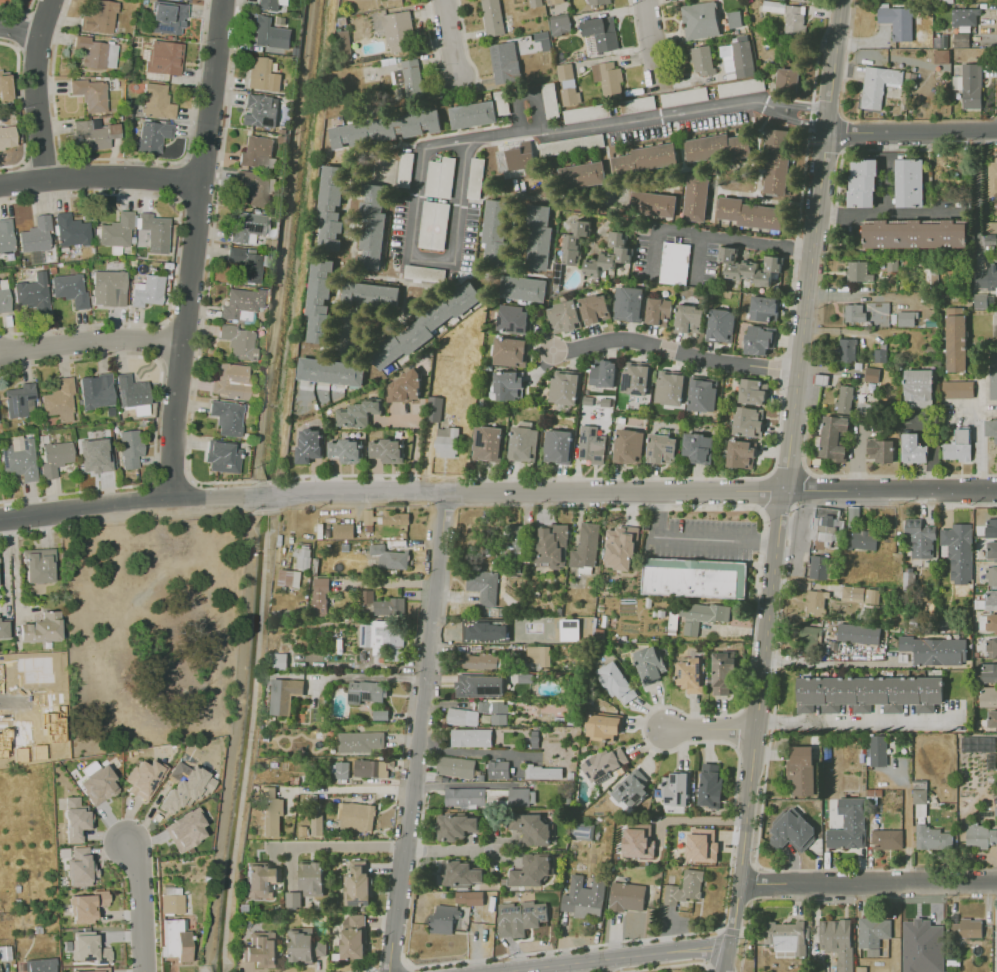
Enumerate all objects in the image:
building: (186, 0)
building: (553, 2)
building: (598, 3)
building: (269, 5)
building: (169, 16)
building: (964, 16)
building: (100, 17)
building: (790, 17)
building: (493, 18)
building: (700, 21)
building: (897, 21)
building: (560, 25)
road: (21, 32)
building: (399, 32)
building: (269, 33)
building: (602, 33)
road: (449, 36)
building: (961, 39)
building: (544, 40)
building: (344, 41)
road: (654, 43)
building: (591, 45)
building: (92, 52)
building: (941, 55)
building: (165, 58)
building: (701, 60)
building: (743, 60)
building: (505, 64)
building: (565, 73)
building: (265, 75)
building: (411, 79)
building: (608, 80)
building: (788, 80)
building: (877, 85)
building: (740, 86)
building: (971, 86)
parking lot: (742, 87)
road: (36, 88)
building: (4, 91)
building: (91, 94)
parking lot: (685, 96)
building: (569, 97)
building: (550, 100)
parking lot: (551, 101)
building: (158, 102)
parking lot: (503, 102)
parking lot: (638, 105)
road: (807, 106)
building: (261, 110)
building: (586, 113)
parking lot: (587, 113)
building: (474, 115)
road: (806, 117)
parking lot: (680, 127)
building: (384, 128)
road: (911, 132)
building: (93, 135)
building: (153, 136)
building: (7, 137)
road: (467, 138)
building: (571, 144)
parking lot: (573, 145)
building: (718, 147)
building: (258, 152)
building: (647, 158)
building: (516, 160)
building: (777, 162)
building: (583, 175)
road: (99, 176)
building: (992, 176)
building: (440, 177)
building: (909, 182)
building: (861, 183)
building: (255, 188)
road: (979, 191)
building: (697, 198)
building: (653, 205)
building: (332, 208)
road: (883, 209)
parking lot: (436, 210)
building: (751, 213)
building: (433, 225)
building: (247, 227)
building: (371, 227)
building: (583, 228)
building: (117, 230)
building: (72, 231)
road: (659, 231)
building: (156, 232)
building: (498, 233)
building: (913, 233)
building: (6, 235)
building: (37, 235)
building: (537, 237)
building: (618, 239)
road: (733, 240)
building: (572, 242)
road: (191, 250)
building: (623, 254)
parking lot: (677, 254)
building: (729, 254)
building: (572, 257)
building: (608, 260)
building: (674, 263)
building: (246, 264)
building: (773, 264)
building: (592, 267)
building: (857, 271)
building: (750, 274)
building: (987, 277)
building: (109, 288)
building: (71, 290)
building: (523, 290)
building: (149, 291)
building: (34, 292)
road: (836, 295)
building: (372, 296)
road: (889, 296)
building: (4, 301)
building: (319, 301)
building: (982, 301)
building: (242, 303)
building: (629, 303)
building: (595, 309)
building: (764, 310)
building: (660, 311)
building: (854, 312)
building: (565, 316)
building: (906, 318)
building: (514, 319)
building: (690, 319)
building: (425, 327)
building: (722, 327)
building: (760, 339)
building: (955, 339)
road: (89, 342)
building: (239, 342)
building: (846, 349)
road: (673, 351)
building: (511, 352)
building: (332, 372)
building: (871, 374)
building: (603, 375)
building: (637, 379)
building: (993, 382)
building: (231, 383)
building: (509, 385)
building: (405, 387)
building: (670, 387)
building: (566, 388)
building: (918, 388)
building: (957, 389)
building: (133, 390)
building: (96, 391)
building: (752, 392)
building: (702, 395)
building: (844, 398)
building: (19, 400)
building: (60, 401)
building: (435, 409)
building: (358, 413)
building: (228, 417)
building: (749, 421)
building: (598, 425)
building: (991, 429)
building: (833, 438)
road: (980, 441)
building: (449, 442)
building: (488, 443)
road: (414, 444)
building: (524, 444)
building: (558, 446)
building: (629, 446)
building: (958, 446)
building: (310, 447)
building: (130, 448)
building: (698, 448)
building: (663, 449)
building: (912, 449)
building: (388, 450)
building: (880, 450)
building: (347, 451)
building: (591, 452)
building: (97, 454)
building: (742, 454)
building: (223, 456)
building: (55, 458)
building: (20, 460)
road: (805, 471)
road: (783, 486)
road: (890, 490)
road: (390, 491)
building: (371, 517)
building: (395, 518)
building: (830, 523)
building: (991, 529)
building: (344, 531)
road: (696, 536)
building: (512, 537)
building: (919, 539)
building: (862, 540)
building: (550, 545)
building: (585, 548)
building: (620, 548)
building: (991, 550)
building: (390, 557)
building: (303, 559)
building: (39, 565)
building: (818, 567)
building: (694, 576)
building: (991, 576)
building: (288, 577)
building: (483, 586)
building: (859, 594)
building: (321, 596)
building: (367, 597)
building: (815, 602)
building: (390, 607)
building: (701, 615)
building: (991, 624)
building: (5, 628)
building: (42, 628)
building: (474, 629)
building: (858, 633)
building: (527, 635)
building: (808, 639)
building: (383, 640)
building: (991, 649)
building: (935, 650)
building: (537, 656)
building: (479, 661)
building: (278, 662)
building: (649, 663)
road: (832, 663)
building: (38, 669)
building: (987, 673)
building: (689, 674)
building: (722, 674)
road: (365, 678)
building: (615, 682)
building: (479, 686)
building: (366, 692)
building: (868, 693)
building: (285, 695)
building: (988, 697)
road: (14, 699)
building: (494, 711)
building: (381, 716)
building: (462, 716)
building: (991, 720)
road: (861, 721)
building: (52, 724)
building: (603, 726)
road: (738, 729)
road: (419, 732)
road: (713, 732)
building: (470, 737)
building: (5, 740)
road: (696, 741)
building: (362, 742)
building: (877, 750)
road: (472, 752)
building: (603, 763)
building: (455, 767)
building: (371, 768)
building: (498, 769)
building: (340, 770)
building: (800, 770)
building: (543, 772)
building: (145, 777)
building: (98, 782)
building: (710, 785)
building: (631, 788)
building: (186, 789)
road: (348, 789)
building: (674, 789)
building: (919, 791)
building: (465, 796)
building: (521, 796)
road: (761, 806)
building: (268, 811)
building: (75, 818)
building: (357, 819)
road: (707, 820)
building: (848, 824)
building: (317, 825)
building: (454, 825)
building: (189, 829)
building: (531, 829)
building: (791, 831)
building: (979, 836)
building: (932, 838)
building: (886, 839)
building: (635, 841)
building: (701, 845)
road: (386, 849)
building: (79, 866)
building: (531, 870)
building: (460, 873)
building: (312, 879)
building: (261, 881)
road: (753, 883)
building: (358, 885)
road: (867, 885)
building: (686, 887)
building: (583, 897)
building: (626, 897)
building: (469, 898)
building: (294, 900)
building: (172, 904)
building: (87, 905)
road: (142, 905)
building: (520, 917)
building: (444, 919)
building: (967, 928)
building: (872, 931)
building: (927, 931)
building: (353, 936)
road: (718, 937)
building: (786, 938)
building: (177, 940)
building: (837, 941)
building: (305, 946)
building: (262, 949)
building: (90, 951)
road: (624, 958)
road: (403, 961)
building: (41, 965)
road: (667, 966)
building: (89, 970)
road: (359, 970)
road: (391, 970)

